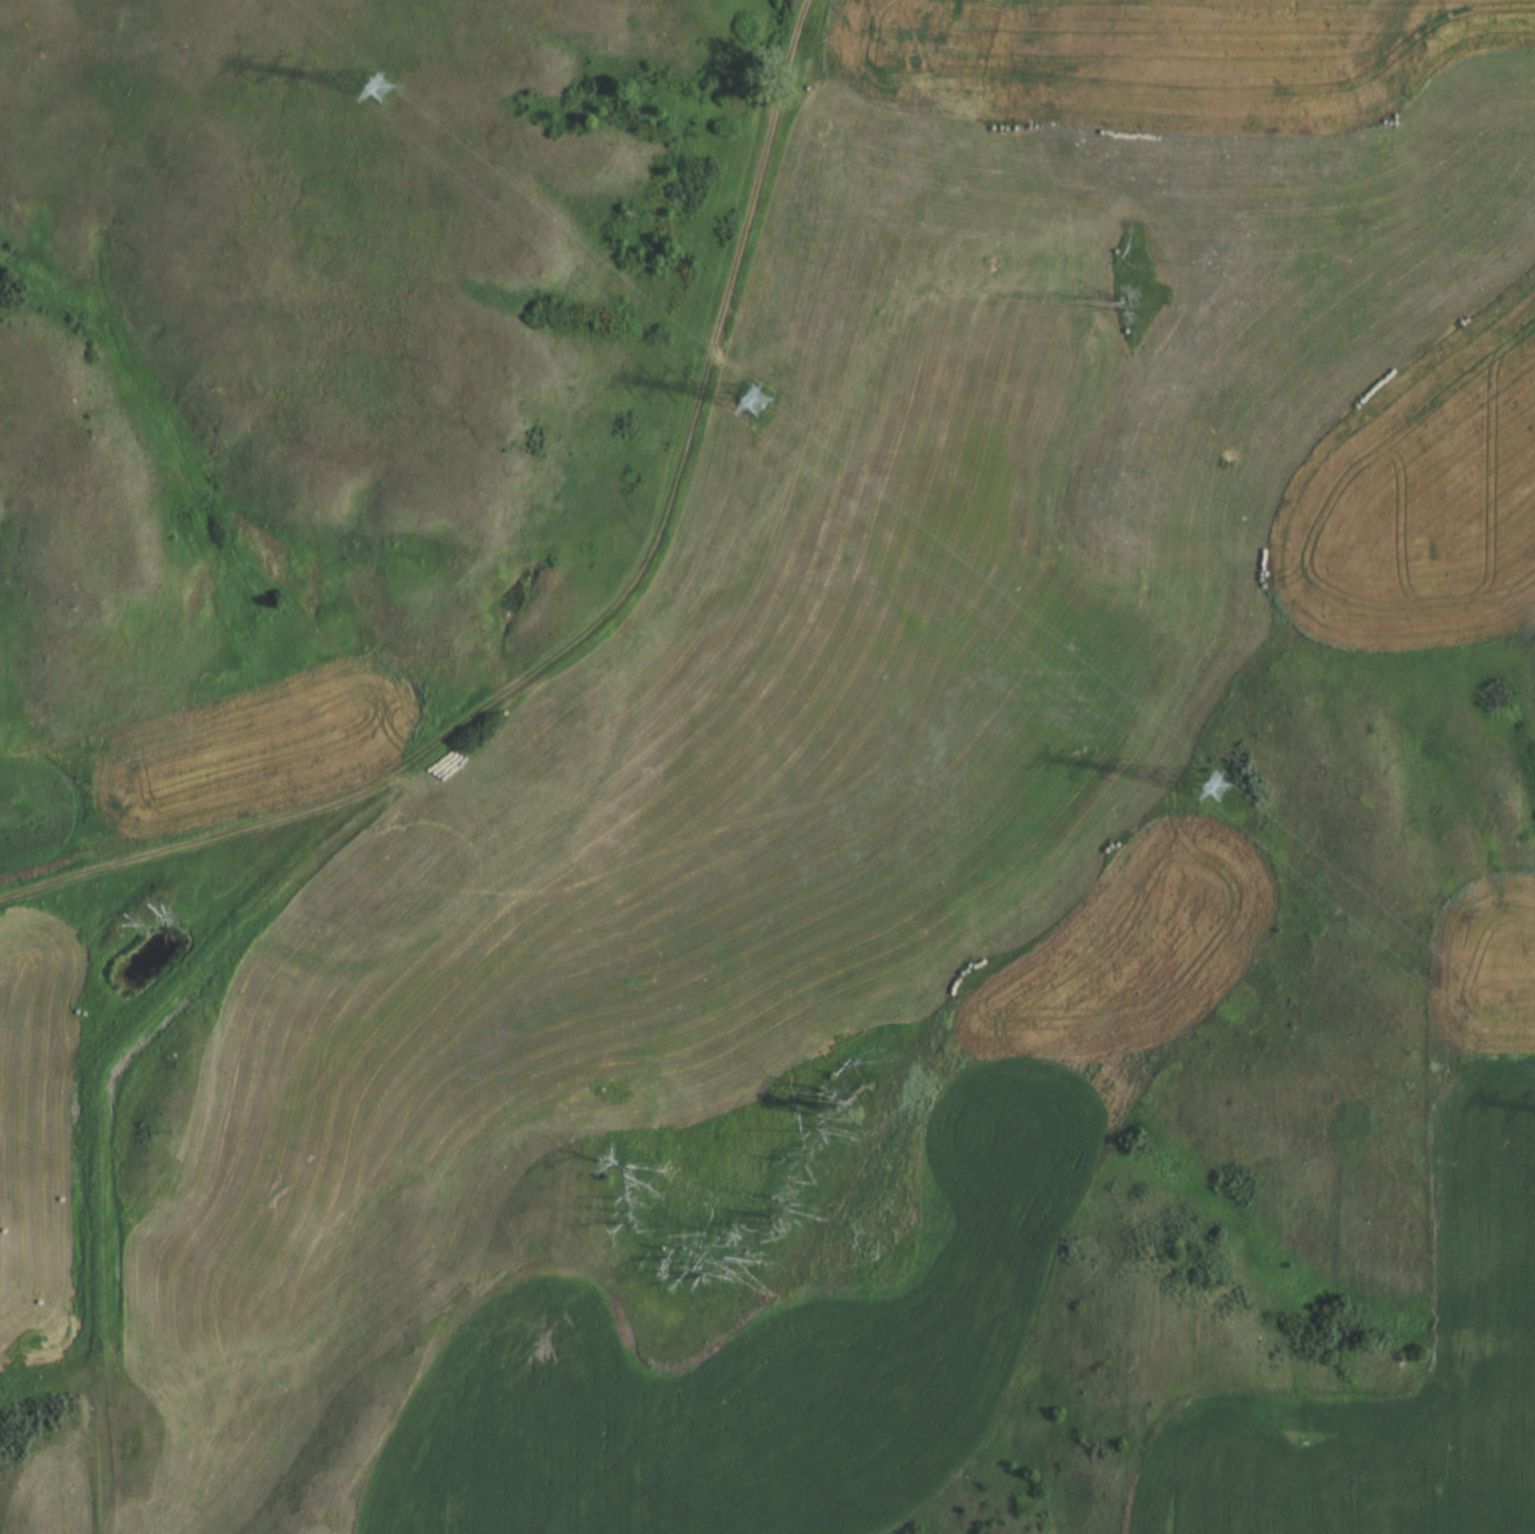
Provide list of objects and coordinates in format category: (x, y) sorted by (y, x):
power tower: (387, 91)
power tower: (759, 399)
road: (602, 631)
power tower: (1225, 787)

